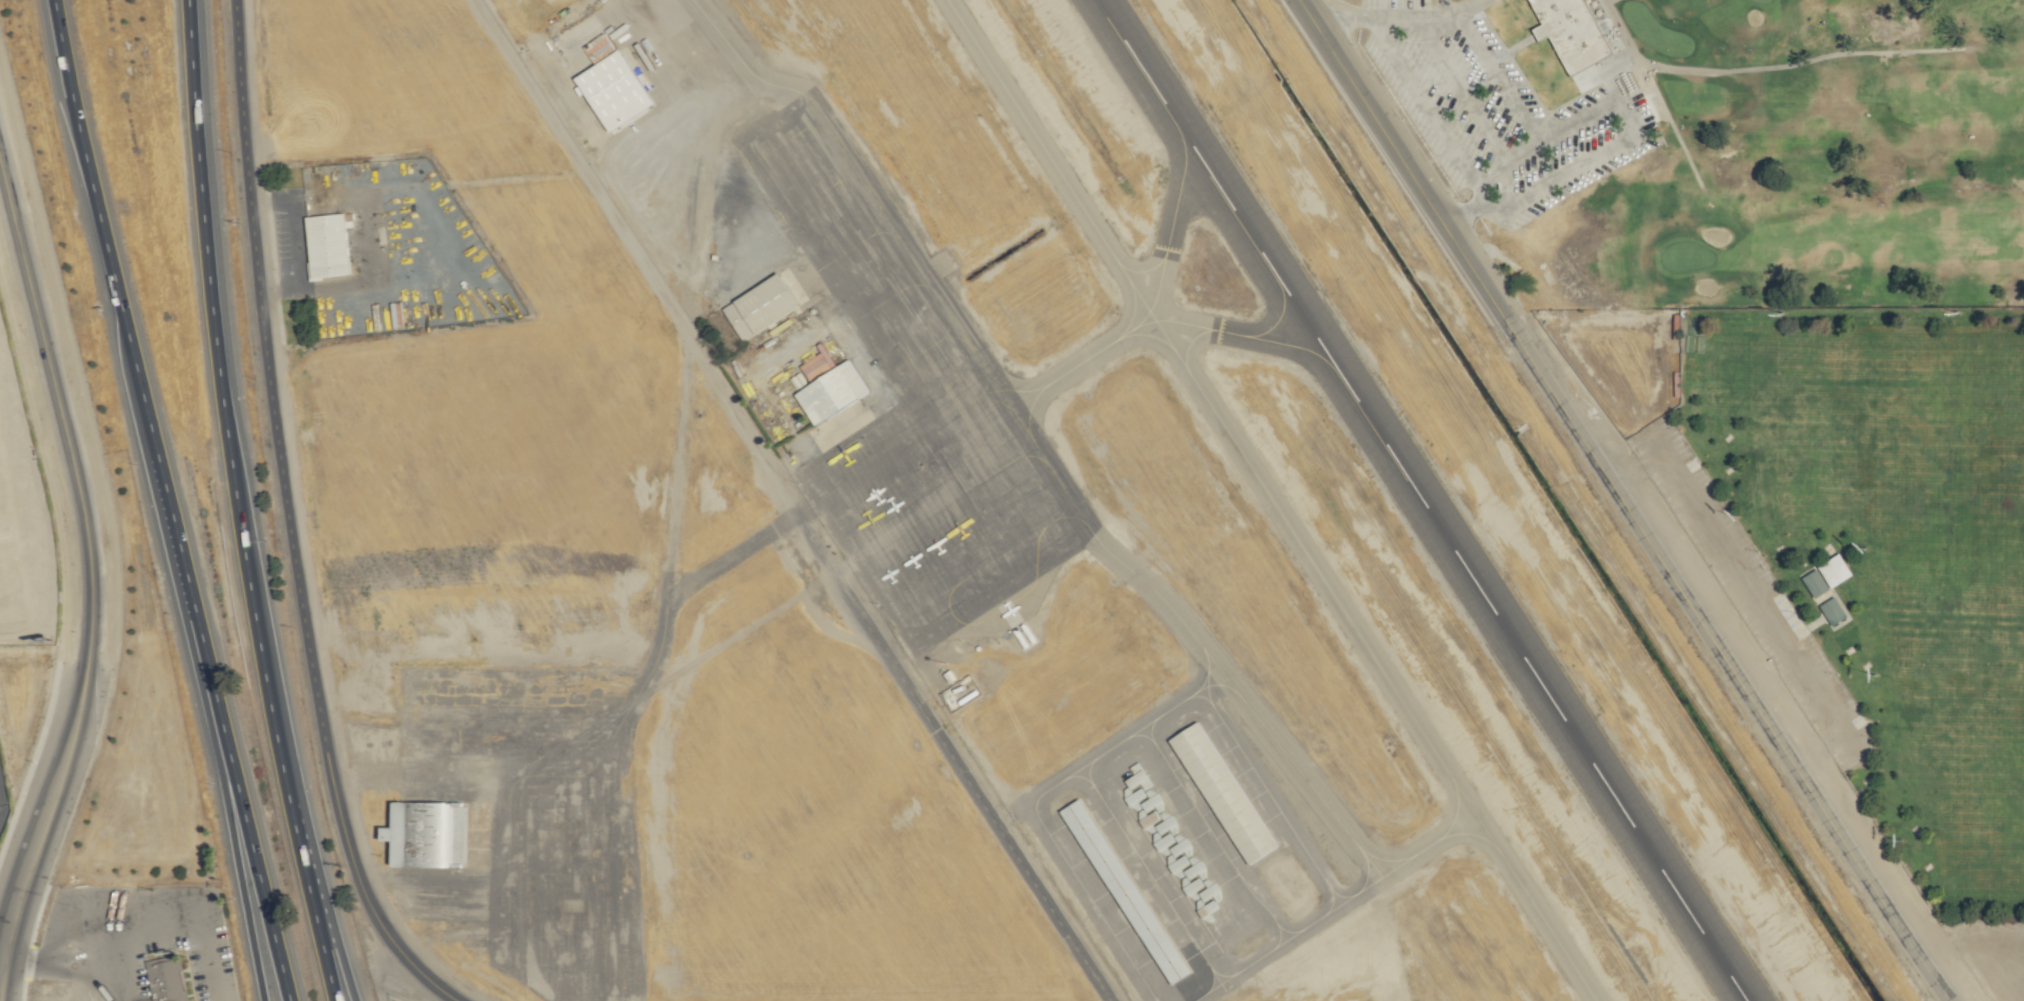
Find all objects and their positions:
building: (1568, 32)
road: (1476, 41)
airport taxiway: (737, 58)
road: (1463, 89)
building: (609, 90)
road: (1424, 102)
road: (1550, 140)
road: (1621, 140)
park: (1724, 148)
road: (102, 230)
road: (295, 240)
building: (323, 246)
airport taxiway: (1155, 298)
building: (757, 307)
airport taxiway: (1222, 332)
building: (826, 387)
road: (224, 404)
airport apron: (912, 405)
airport taxiway: (1270, 499)
airport: (1201, 500)
airport runway: (1420, 500)
road: (1618, 500)
road: (785, 502)
road: (288, 520)
road: (89, 564)
building: (1832, 570)
park: (1854, 570)
building: (1813, 583)
airport taxiway: (692, 585)
road: (191, 598)
building: (1831, 611)
airport taxiway: (1212, 680)
airport taxiway: (1290, 762)
building: (1220, 793)
road: (2, 803)
airport apron: (523, 827)
building: (1084, 833)
building: (423, 835)
airport apron: (1181, 852)
airport taxiway: (1413, 856)
road: (239, 869)
road: (256, 869)
road: (310, 903)
road: (176, 919)
building: (1156, 945)
road: (338, 951)
road: (62, 965)
building: (168, 978)
airport taxiway: (1226, 996)

